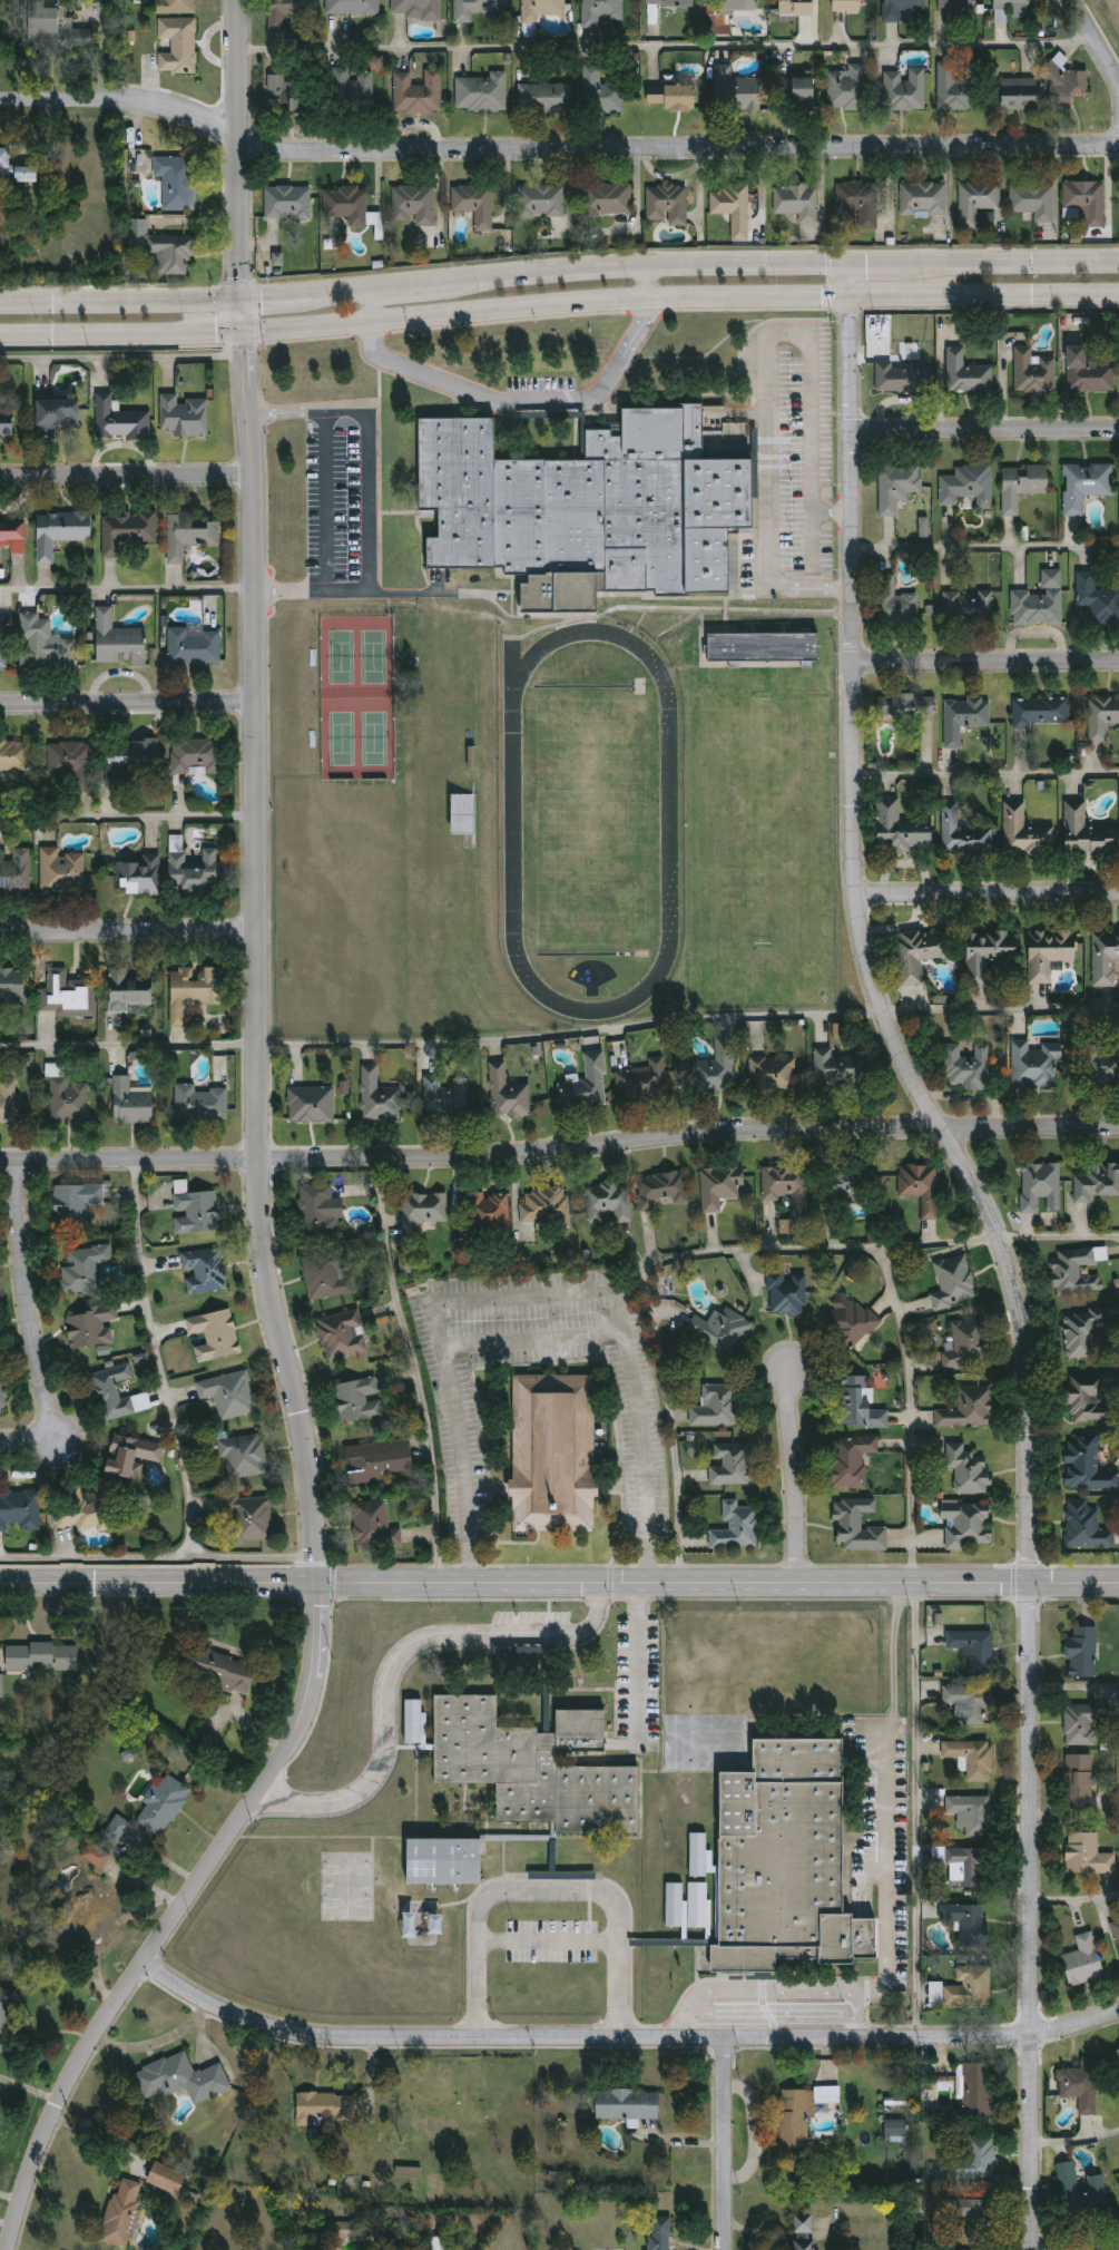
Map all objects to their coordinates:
building: (669, 2)
building: (850, 4)
building: (174, 7)
building: (352, 7)
building: (735, 7)
building: (955, 7)
building: (418, 8)
building: (795, 8)
building: (479, 9)
building: (540, 9)
building: (900, 9)
building: (1010, 10)
building: (282, 11)
park: (1111, 11)
building: (599, 12)
park: (1110, 14)
building: (53, 28)
building: (529, 30)
building: (177, 43)
road: (664, 45)
road: (1096, 45)
building: (1062, 78)
building: (351, 87)
building: (846, 87)
building: (956, 88)
building: (759, 89)
building: (904, 89)
building: (418, 91)
building: (480, 92)
building: (600, 92)
building: (1019, 92)
building: (287, 95)
building: (543, 98)
building: (675, 98)
road: (235, 150)
road: (554, 150)
building: (16, 166)
building: (176, 180)
road: (1056, 187)
building: (608, 197)
building: (922, 197)
building: (540, 200)
building: (795, 200)
building: (857, 200)
building: (974, 200)
building: (1032, 200)
building: (1084, 200)
building: (287, 202)
building: (345, 203)
building: (474, 203)
building: (409, 204)
building: (666, 204)
building: (733, 208)
building: (161, 245)
building: (277, 258)
road: (1005, 261)
road: (872, 262)
road: (641, 264)
road: (852, 278)
road: (650, 280)
road: (399, 286)
road: (334, 293)
road: (985, 294)
road: (272, 299)
traffic signals: (241, 302)
road: (120, 303)
road: (369, 306)
road: (425, 316)
traffic signals: (243, 333)
road: (769, 369)
building: (1090, 372)
building: (968, 373)
building: (1034, 373)
building: (904, 379)
parking lot: (540, 383)
road: (522, 405)
road: (277, 412)
building: (59, 413)
building: (185, 417)
building: (121, 421)
building: (7, 425)
road: (987, 433)
parking lot: (791, 457)
road: (126, 481)
building: (1022, 486)
building: (1086, 486)
building: (897, 487)
building: (968, 487)
parking lot: (341, 498)
road: (365, 502)
building: (588, 502)
road: (835, 509)
building: (13, 530)
building: (61, 531)
building: (127, 531)
building: (190, 535)
road: (987, 547)
road: (815, 549)
road: (127, 588)
road: (279, 588)
road: (834, 589)
building: (1097, 599)
building: (1041, 603)
building: (895, 604)
building: (969, 607)
building: (119, 642)
building: (4, 645)
building: (45, 645)
building: (196, 647)
building: (764, 647)
road: (987, 666)
road: (128, 707)
building: (907, 707)
building: (1041, 712)
building: (965, 717)
building: (1102, 717)
building: (14, 756)
building: (197, 756)
building: (129, 760)
road: (987, 763)
building: (73, 764)
road: (129, 815)
building: (463, 815)
building: (901, 830)
building: (1025, 833)
building: (964, 834)
building: (1088, 835)
building: (195, 872)
building: (17, 873)
building: (61, 873)
building: (140, 877)
road: (988, 898)
road: (130, 932)
building: (1050, 952)
building: (922, 953)
building: (989, 956)
building: (1105, 957)
building: (129, 990)
building: (195, 991)
building: (69, 995)
building: (12, 996)
road: (1001, 1008)
road: (571, 1025)
road: (131, 1045)
building: (1037, 1065)
building: (1105, 1066)
building: (968, 1067)
building: (716, 1070)
building: (838, 1072)
building: (774, 1074)
building: (645, 1082)
building: (586, 1084)
building: (509, 1093)
building: (448, 1097)
building: (380, 1098)
building: (70, 1100)
building: (8, 1103)
building: (132, 1104)
building: (200, 1104)
building: (312, 1105)
road: (559, 1153)
building: (1096, 1182)
building: (846, 1185)
building: (722, 1186)
building: (920, 1186)
building: (1041, 1186)
building: (788, 1187)
building: (661, 1190)
building: (609, 1202)
building: (76, 1204)
building: (547, 1207)
building: (424, 1210)
building: (317, 1211)
building: (197, 1213)
building: (491, 1213)
road: (1059, 1234)
road: (776, 1240)
road: (1008, 1256)
building: (405, 1262)
building: (86, 1270)
building: (205, 1271)
building: (1077, 1271)
building: (328, 1275)
building: (954, 1282)
road: (528, 1289)
building: (787, 1294)
road: (279, 1317)
building: (851, 1320)
building: (91, 1327)
road: (31, 1329)
building: (722, 1330)
building: (1081, 1332)
building: (216, 1334)
building: (343, 1334)
road: (533, 1340)
building: (966, 1346)
road: (907, 1354)
road: (157, 1359)
road: (415, 1370)
building: (117, 1393)
building: (2, 1395)
building: (230, 1396)
building: (1093, 1397)
building: (360, 1400)
building: (860, 1406)
building: (717, 1407)
road: (678, 1408)
building: (969, 1410)
building: (551, 1454)
building: (245, 1455)
building: (132, 1457)
building: (381, 1460)
building: (853, 1461)
building: (732, 1465)
building: (1087, 1466)
building: (969, 1471)
road: (797, 1477)
building: (20, 1510)
building: (86, 1513)
building: (252, 1518)
building: (374, 1525)
building: (966, 1525)
building: (738, 1527)
building: (858, 1527)
building: (1086, 1527)
road: (158, 1556)
road: (559, 1583)
building: (973, 1647)
road: (232, 1649)
building: (1083, 1653)
road: (399, 1655)
building: (41, 1657)
road: (638, 1662)
building: (225, 1672)
building: (1, 1686)
building: (970, 1701)
building: (414, 1723)
building: (1083, 1723)
road: (253, 1725)
building: (973, 1759)
building: (536, 1769)
building: (1081, 1782)
building: (164, 1806)
road: (914, 1812)
building: (972, 1814)
building: (117, 1828)
building: (1088, 1855)
building: (97, 1856)
building: (699, 1857)
building: (786, 1861)
building: (445, 1862)
building: (966, 1868)
road: (550, 1891)
road: (1077, 1898)
building: (674, 1904)
building: (699, 1905)
building: (85, 1916)
building: (966, 1924)
building: (1117, 1931)
building: (1083, 1960)
building: (970, 1987)
road: (770, 1992)
road: (770, 2013)
building: (6, 2014)
road: (625, 2042)
building: (1118, 2053)
building: (181, 2080)
building: (1083, 2086)
building: (979, 2091)
building: (628, 2105)
building: (328, 2106)
building: (801, 2114)
building: (896, 2130)
road: (1077, 2139)
road: (724, 2145)
building: (975, 2162)
building: (409, 2171)
building: (1118, 2174)
building: (557, 2176)
building: (167, 2178)
building: (1081, 2191)
building: (124, 2212)
building: (970, 2218)
building: (341, 2229)
building: (804, 2232)
building: (660, 2233)
building: (432, 2243)
building: (966, 2249)

